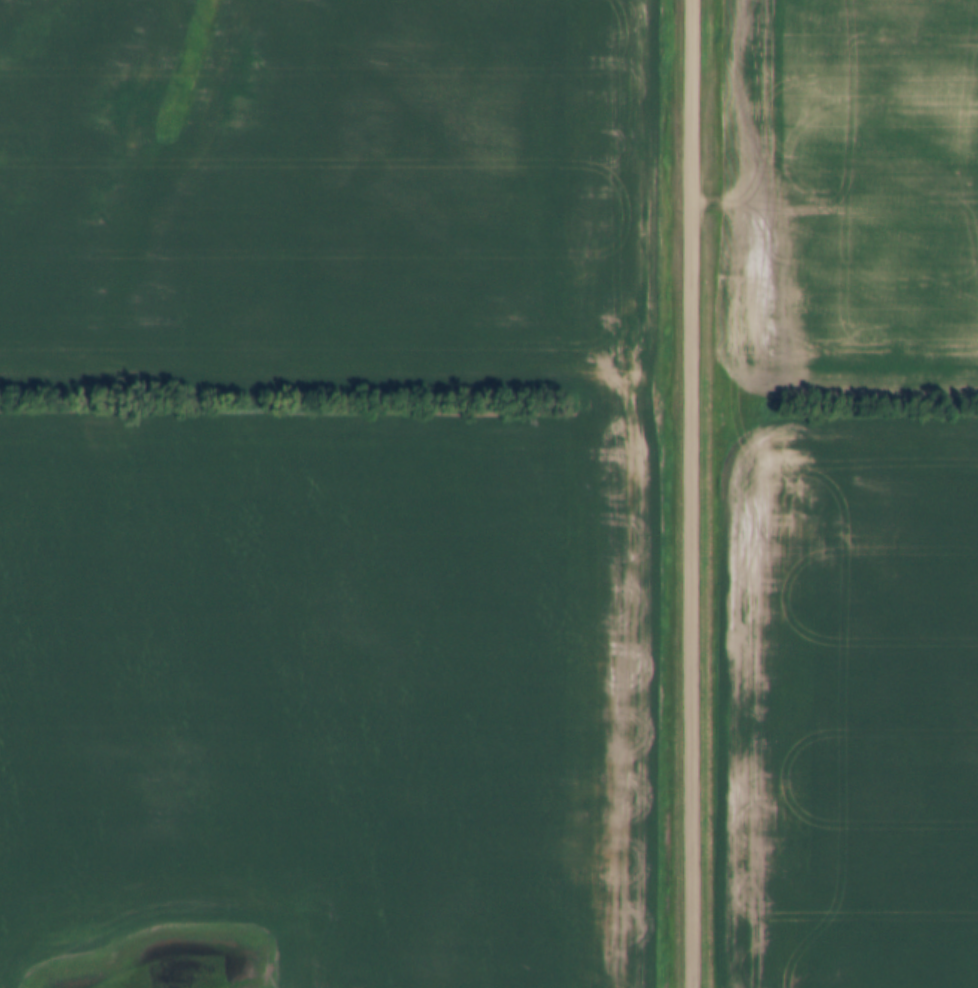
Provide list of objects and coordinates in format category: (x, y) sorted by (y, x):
road: (692, 493)

